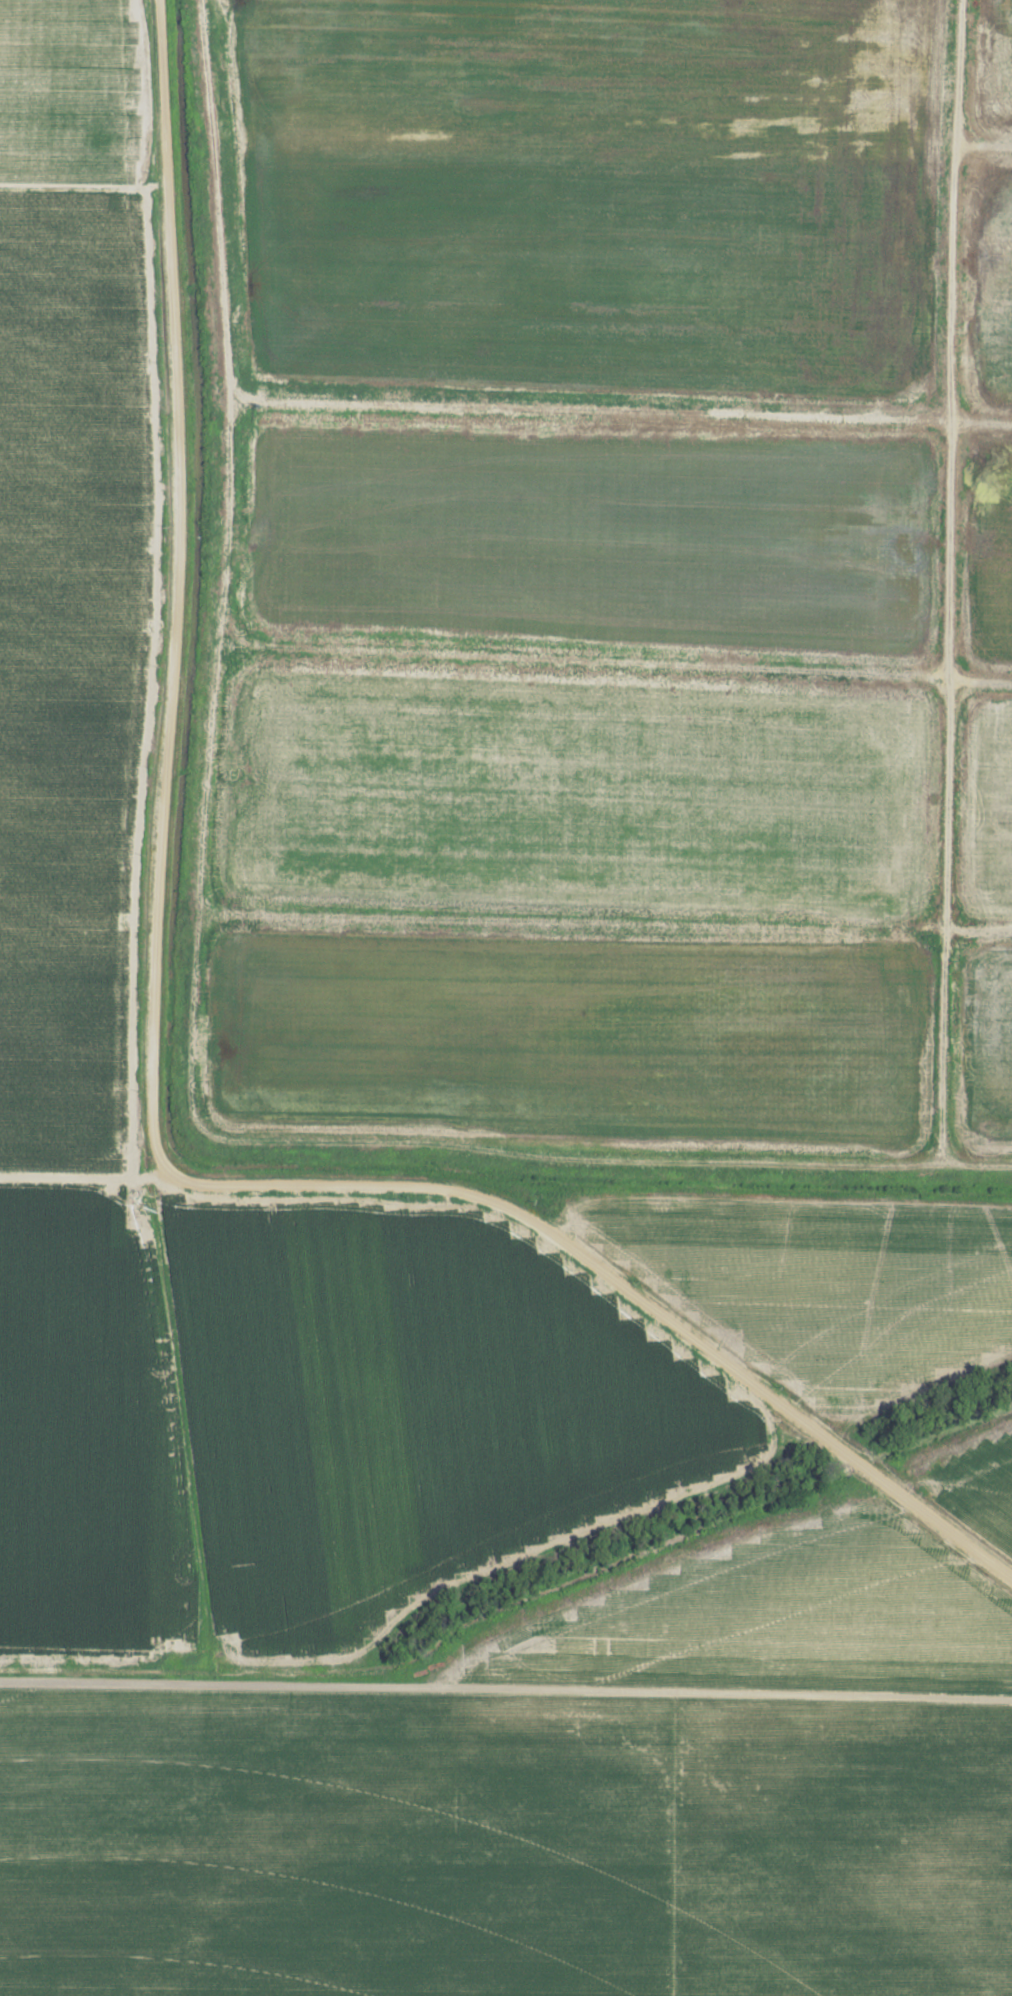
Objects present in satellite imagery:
road: (159, 90)
road: (82, 187)
road: (169, 682)
road: (556, 1238)

